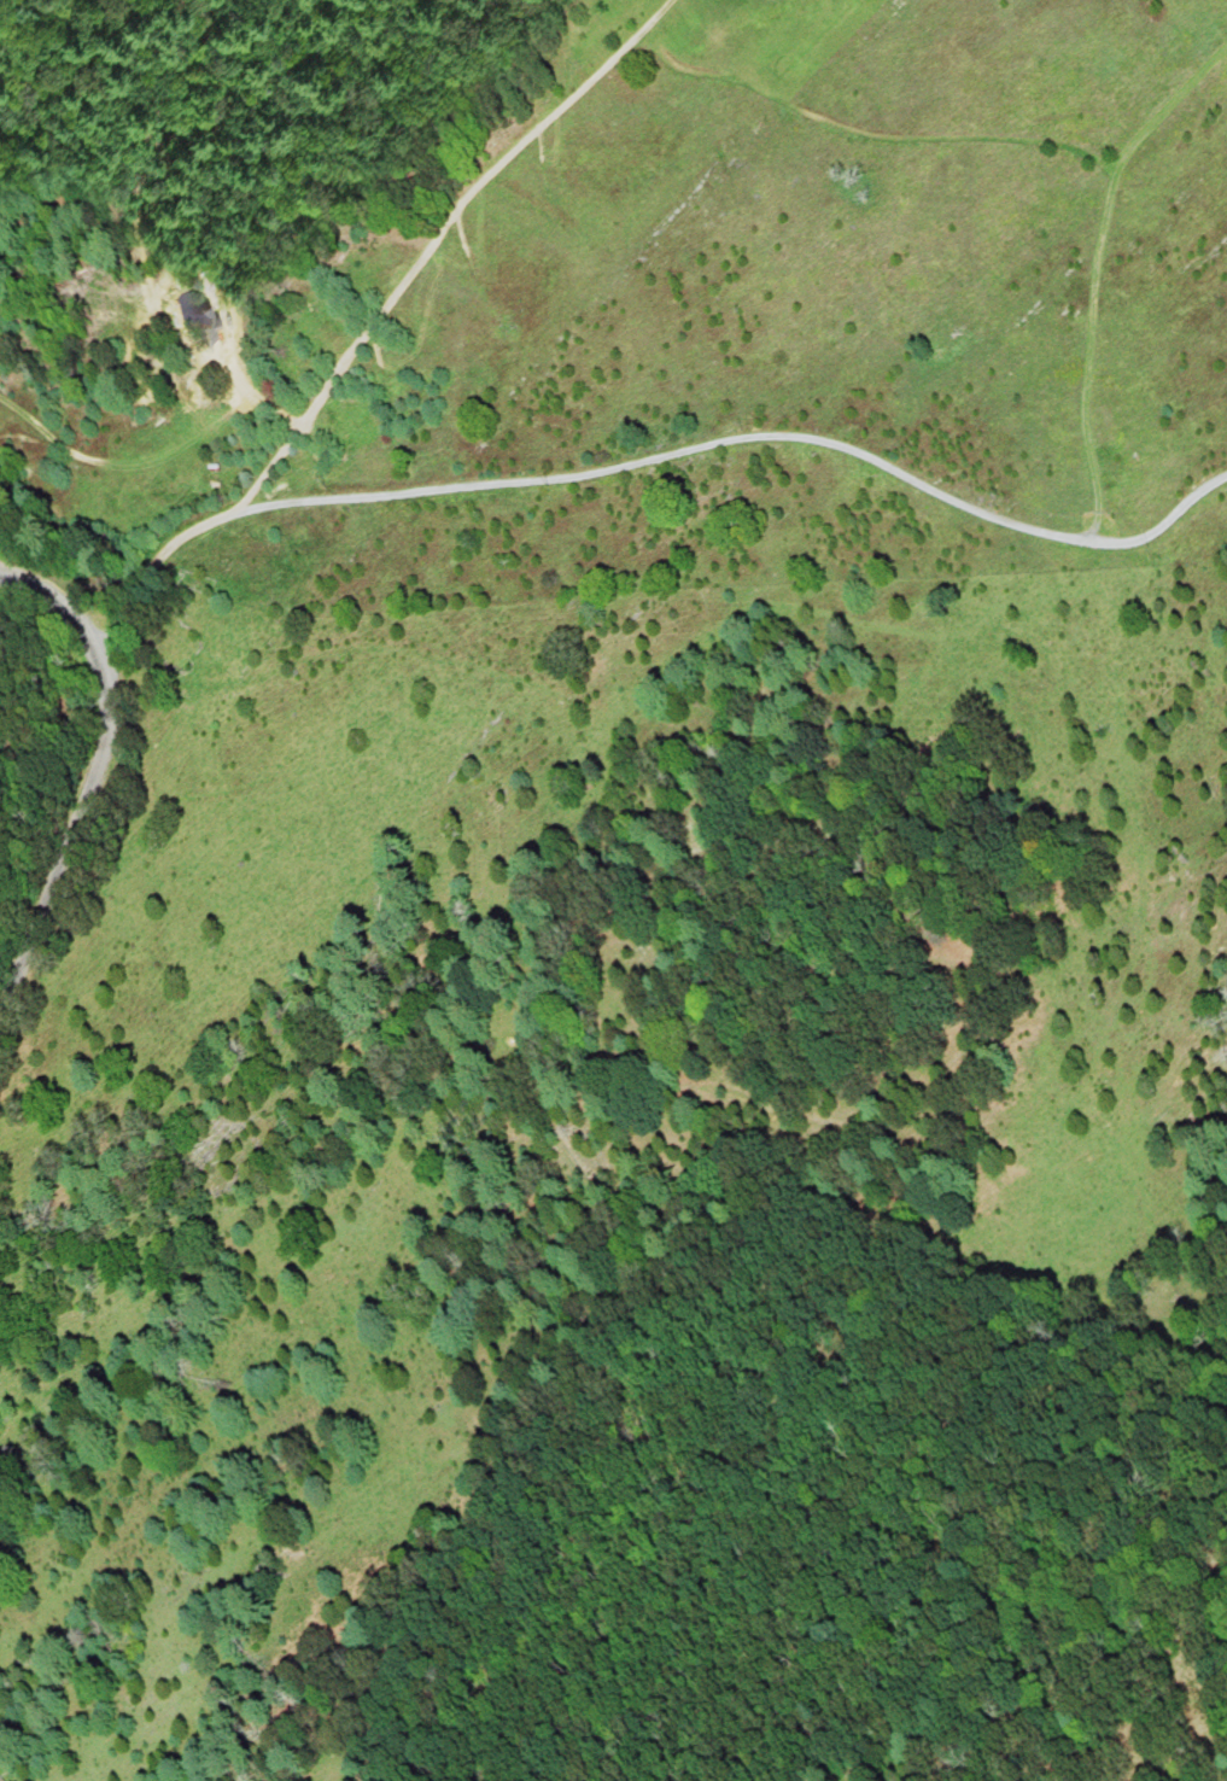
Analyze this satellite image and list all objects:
road: (1167, 110)
road: (1048, 142)
road: (440, 241)
road: (645, 459)
road: (95, 753)

